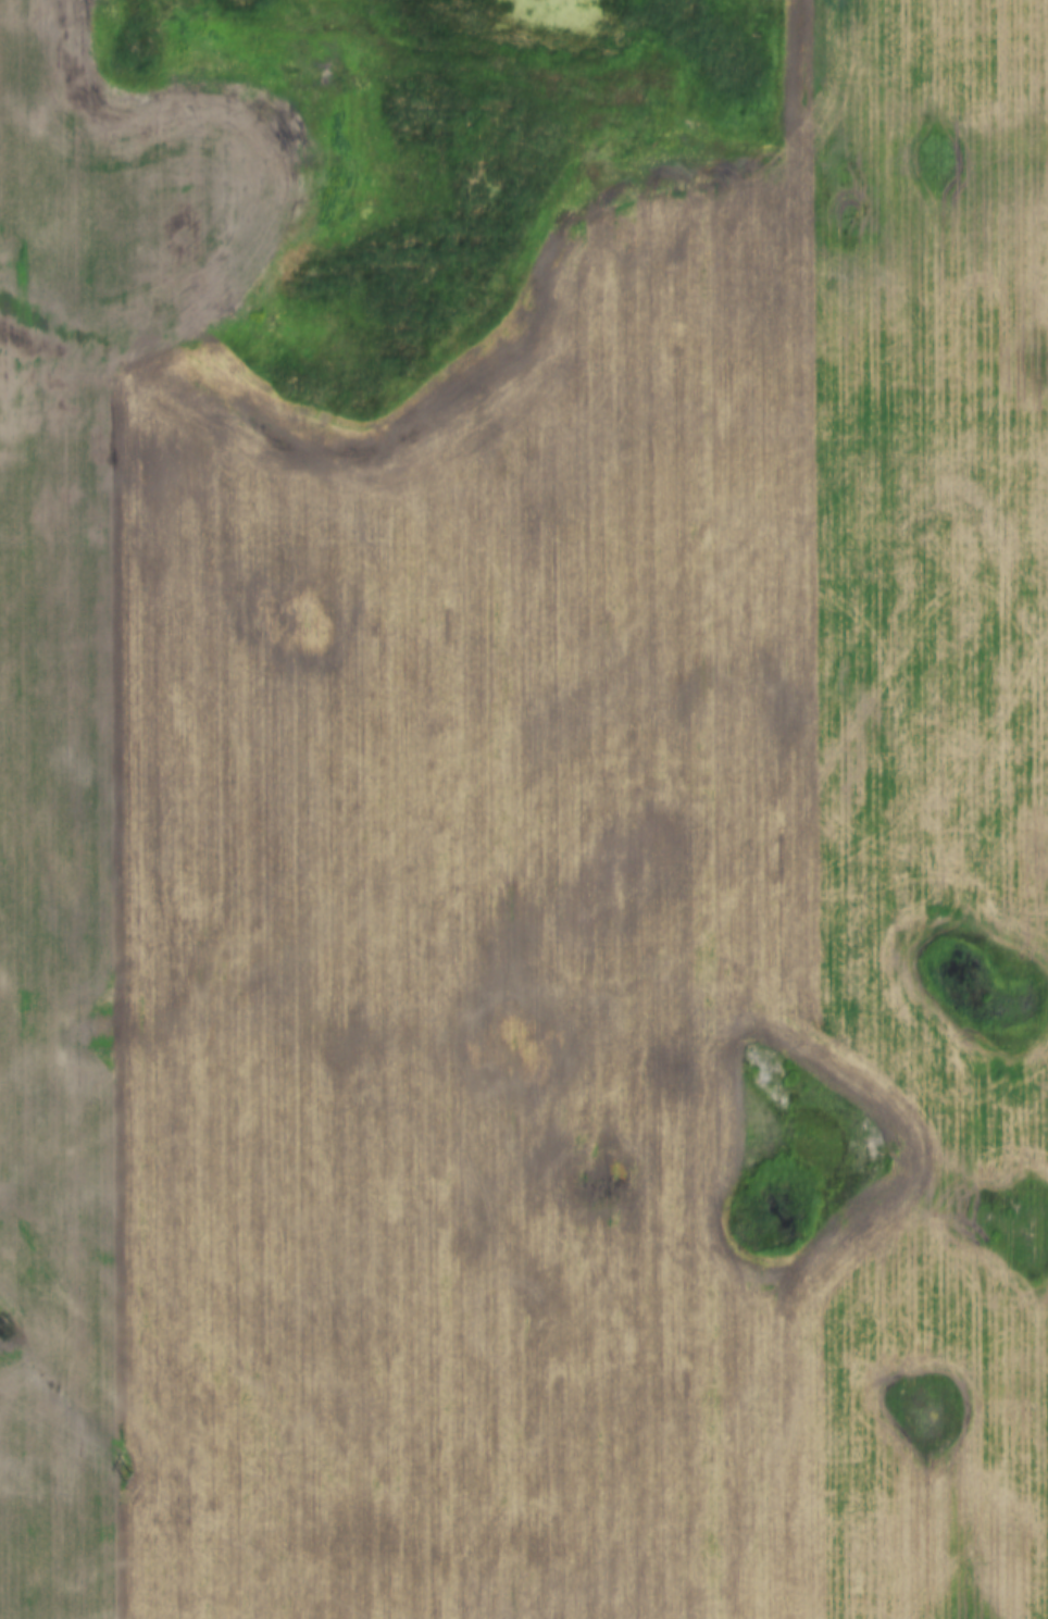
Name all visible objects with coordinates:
power tower: (125, 1475)

